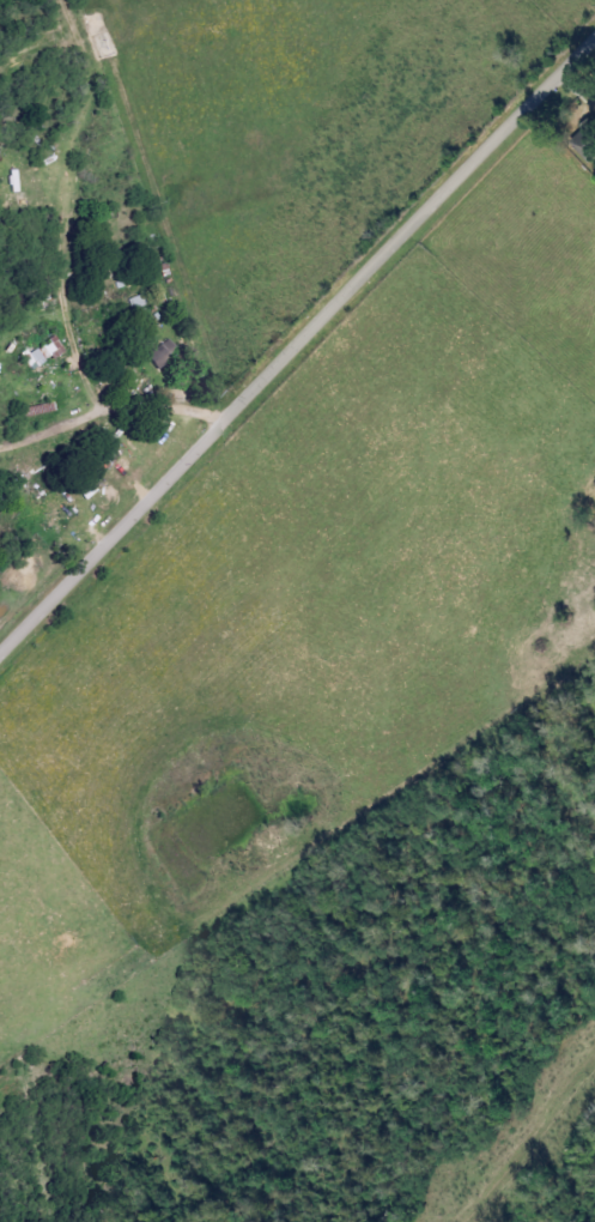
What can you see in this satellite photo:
road: (297, 347)
building: (45, 352)
road: (110, 413)

